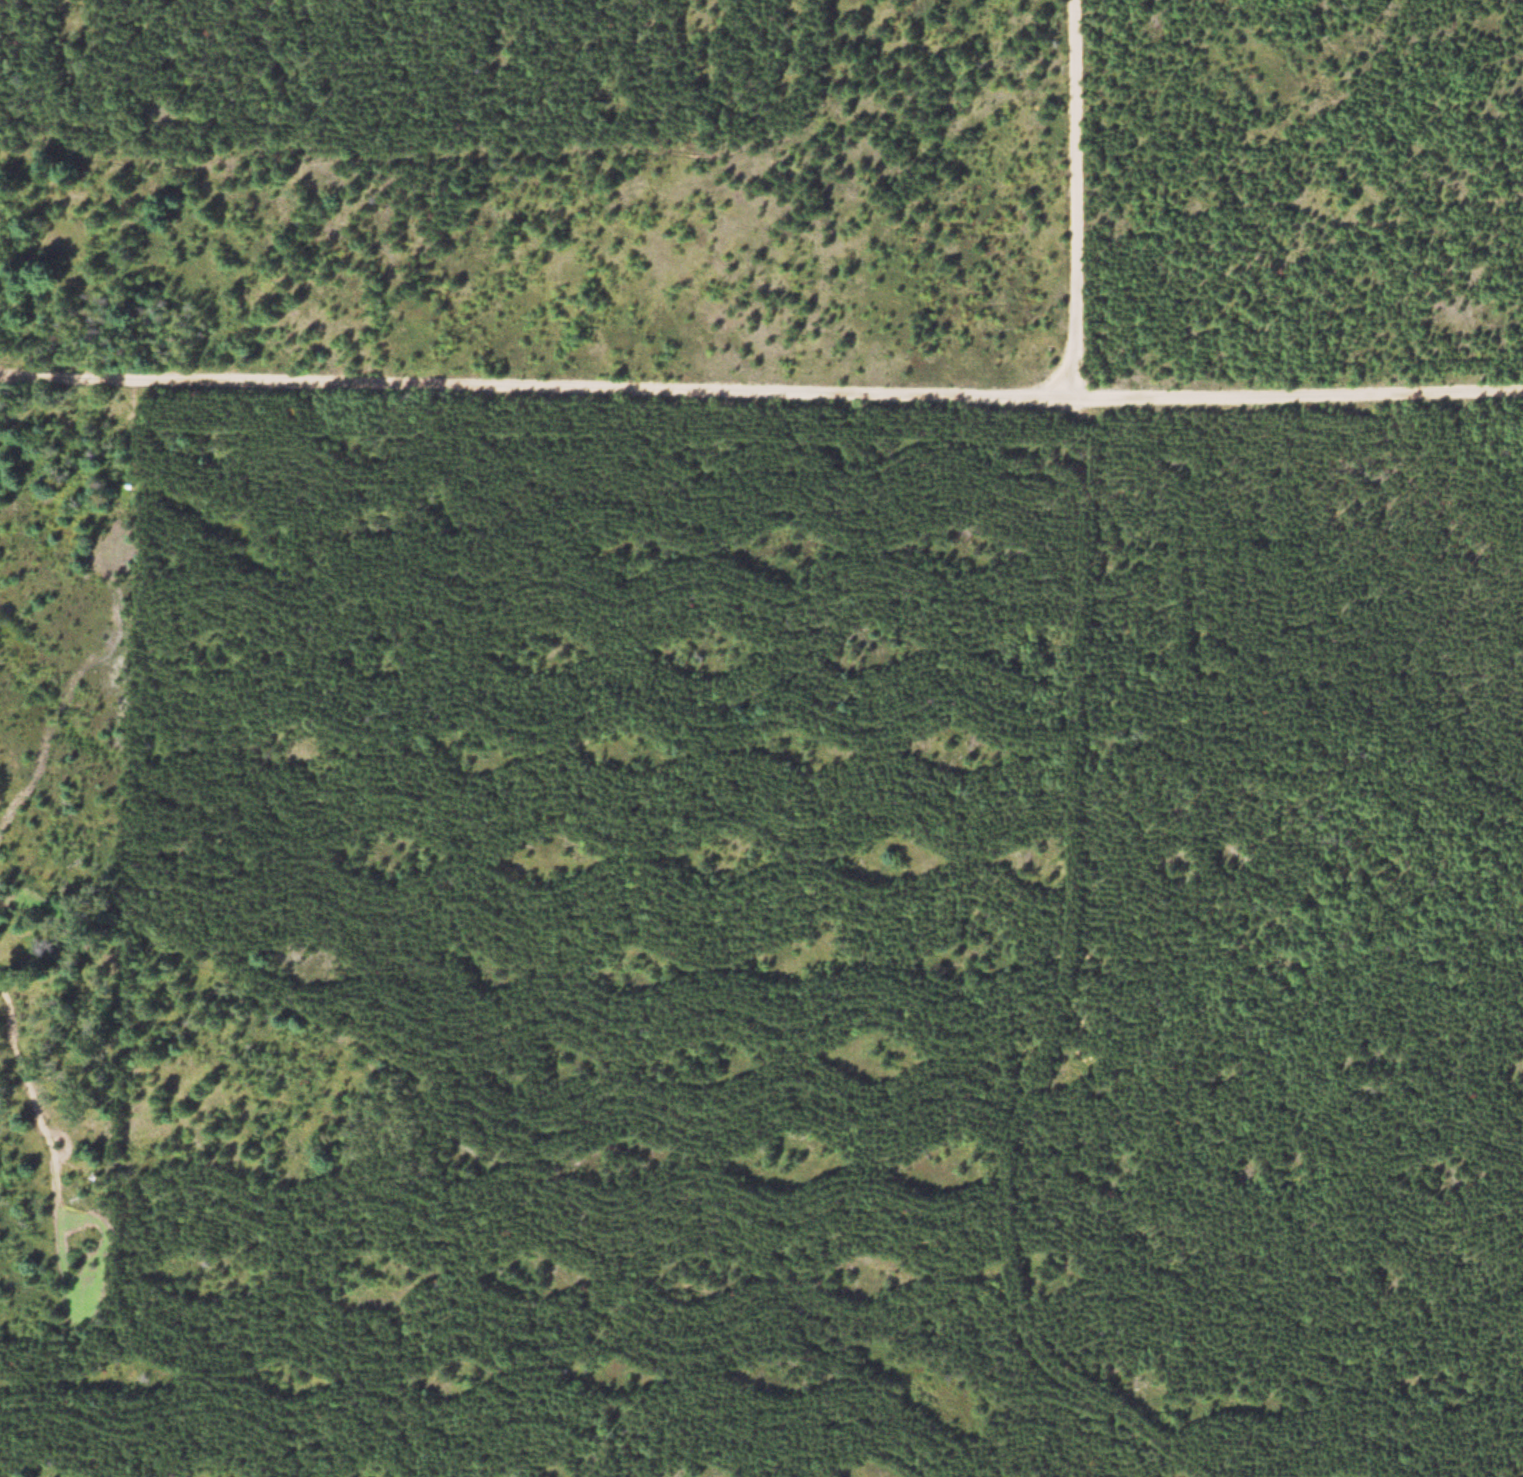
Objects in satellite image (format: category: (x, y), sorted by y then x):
road: (761, 387)
road: (1062, 785)

